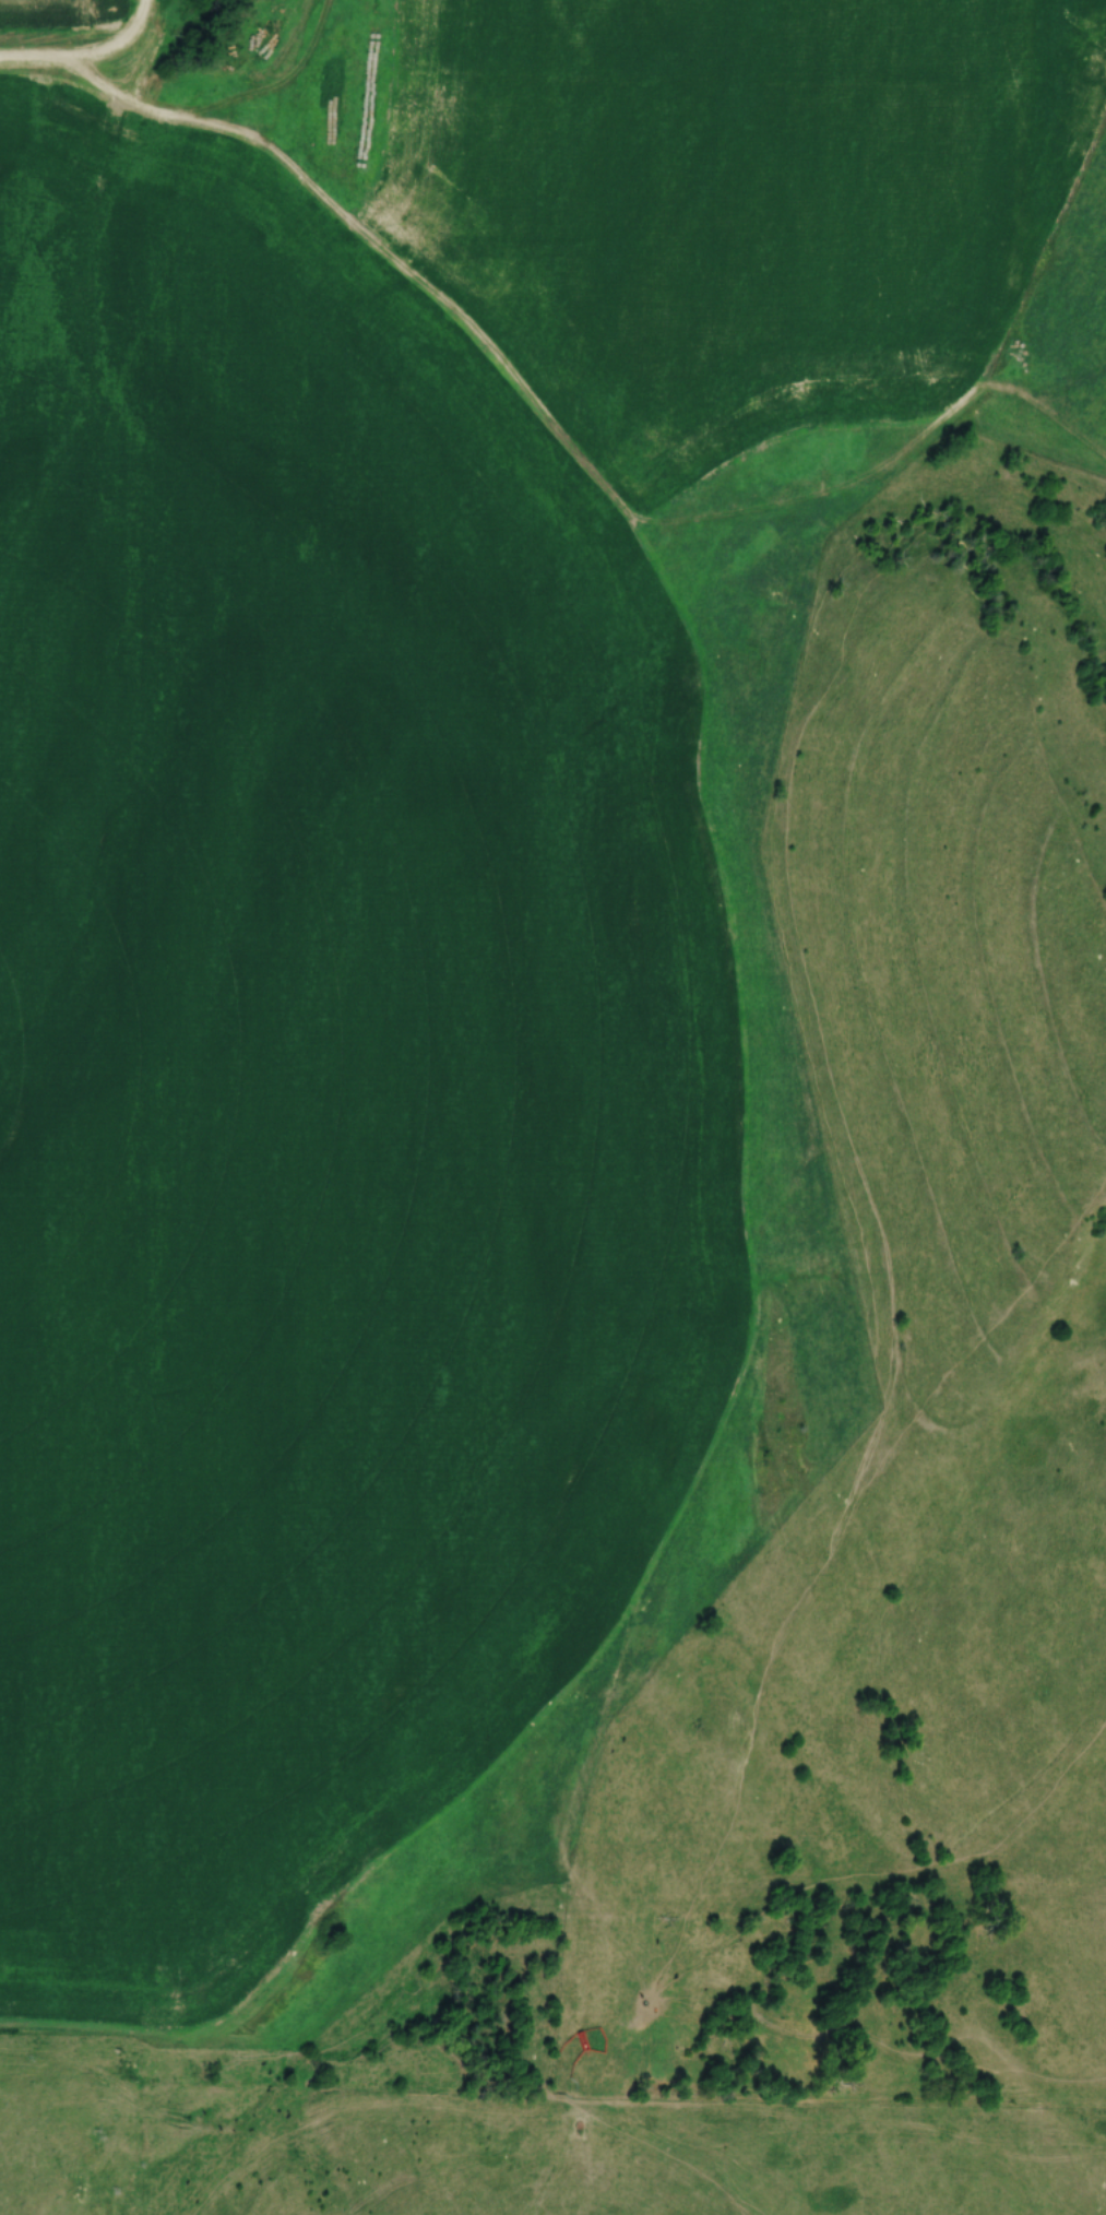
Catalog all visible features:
road: (138, 22)
road: (61, 54)

